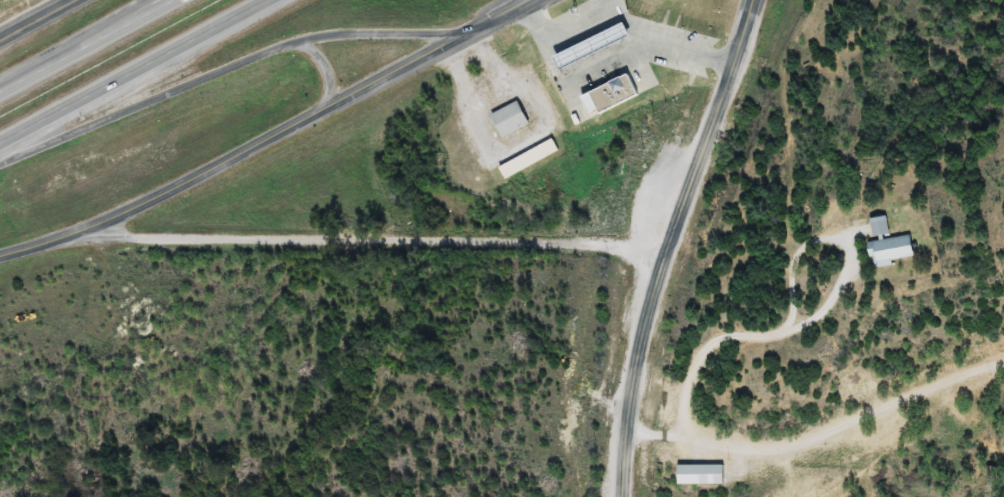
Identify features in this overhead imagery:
road: (33, 11)
road: (508, 15)
road: (6, 26)
building: (594, 40)
gas station: (594, 40)
road: (73, 42)
road: (87, 46)
building: (596, 47)
road: (233, 67)
road: (326, 68)
road: (134, 71)
building: (613, 89)
building: (512, 120)
road: (244, 153)
building: (530, 160)
building: (881, 227)
road: (370, 243)
road: (671, 244)
building: (893, 250)
building: (703, 475)

